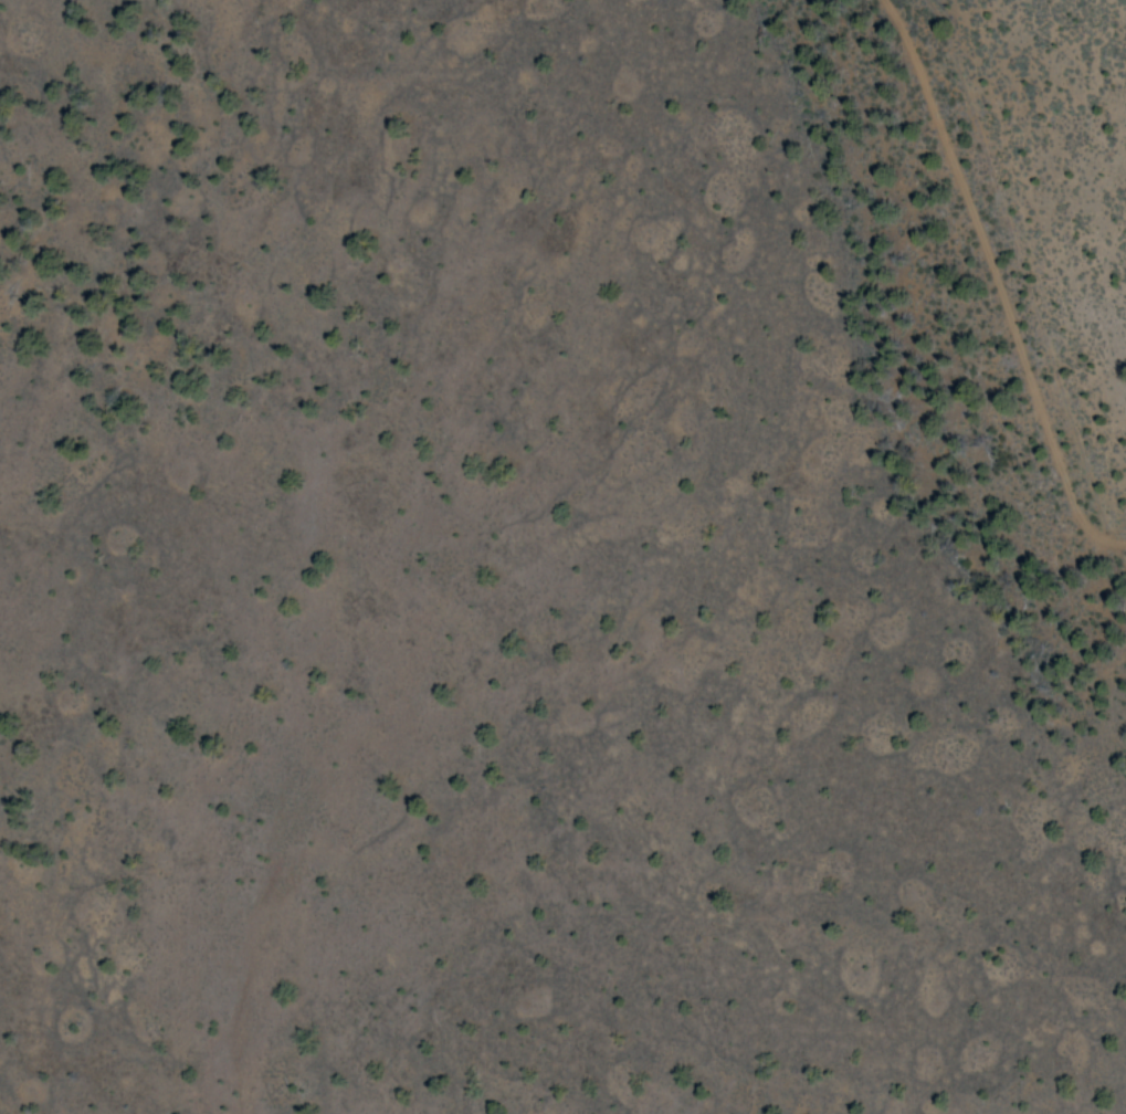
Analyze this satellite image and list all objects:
road: (997, 282)

